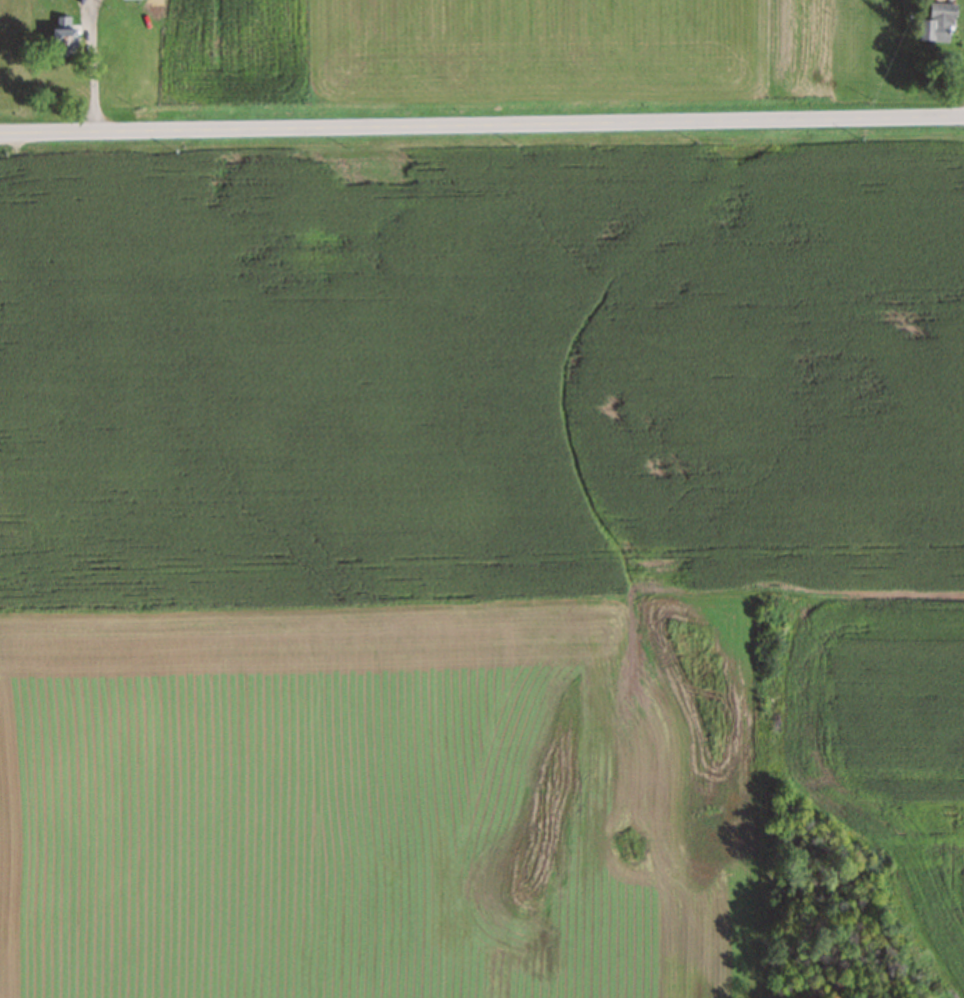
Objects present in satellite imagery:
building: (938, 22)
building: (63, 36)
road: (482, 124)

